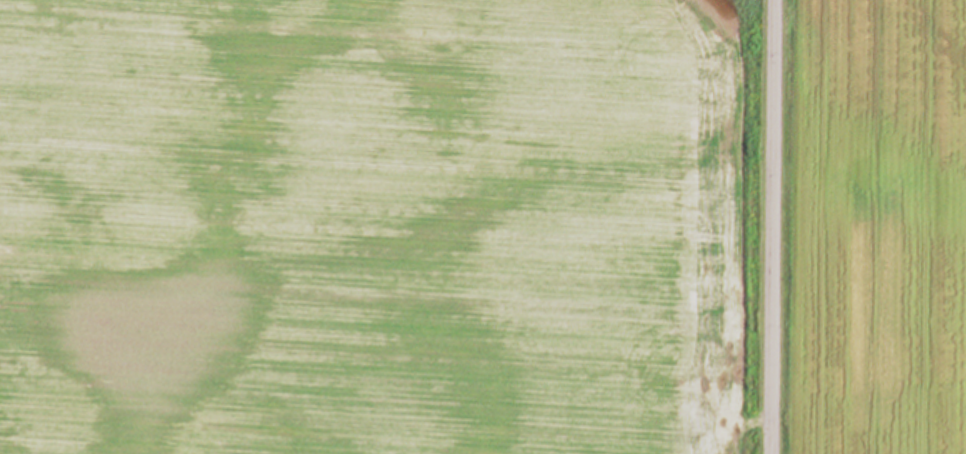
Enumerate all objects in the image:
road: (769, 227)

